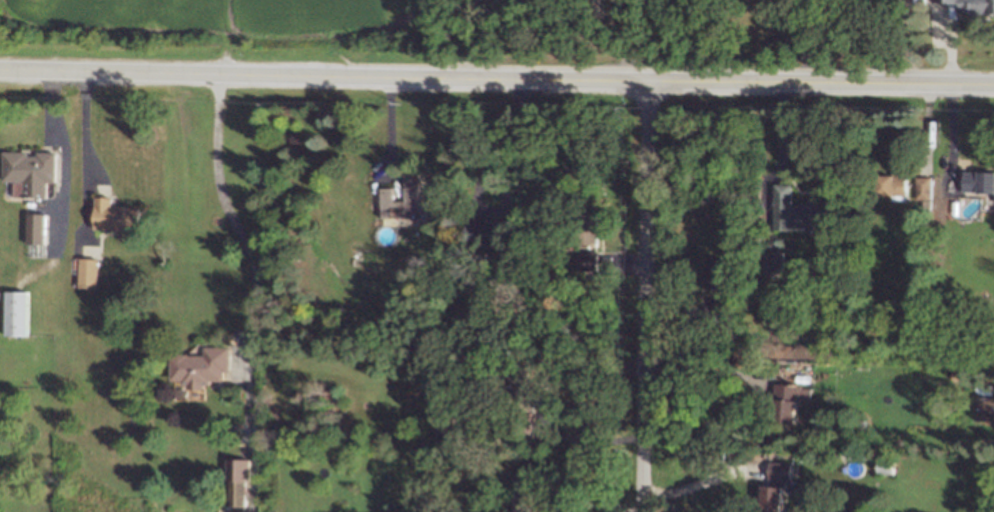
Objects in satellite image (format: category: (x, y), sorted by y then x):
building: (972, 6)
crop: (223, 11)
road: (496, 76)
road: (388, 126)
road: (64, 151)
road: (86, 153)
building: (30, 172)
building: (978, 181)
building: (895, 186)
building: (923, 187)
building: (404, 198)
building: (798, 210)
building: (117, 215)
road: (228, 215)
building: (36, 227)
building: (488, 230)
building: (592, 233)
building: (588, 260)
building: (776, 262)
building: (89, 272)
building: (716, 272)
road: (645, 296)
building: (18, 313)
road: (704, 361)
building: (201, 367)
road: (544, 399)
building: (790, 400)
building: (239, 481)
road: (694, 483)
building: (776, 485)

